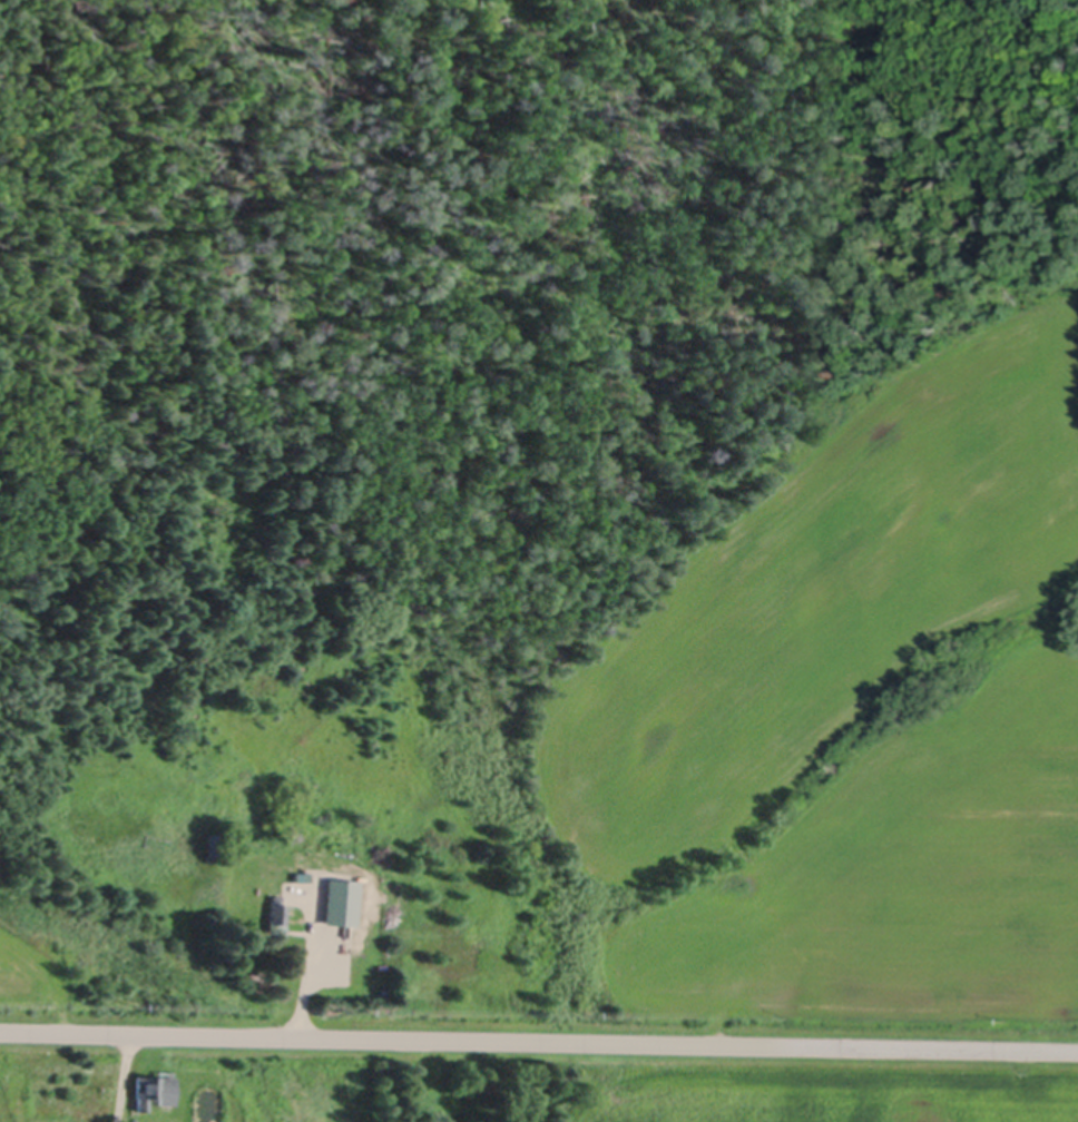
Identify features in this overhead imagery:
building: (209, 846)
building: (273, 909)
building: (326, 912)
road: (539, 1032)
building: (150, 1090)

